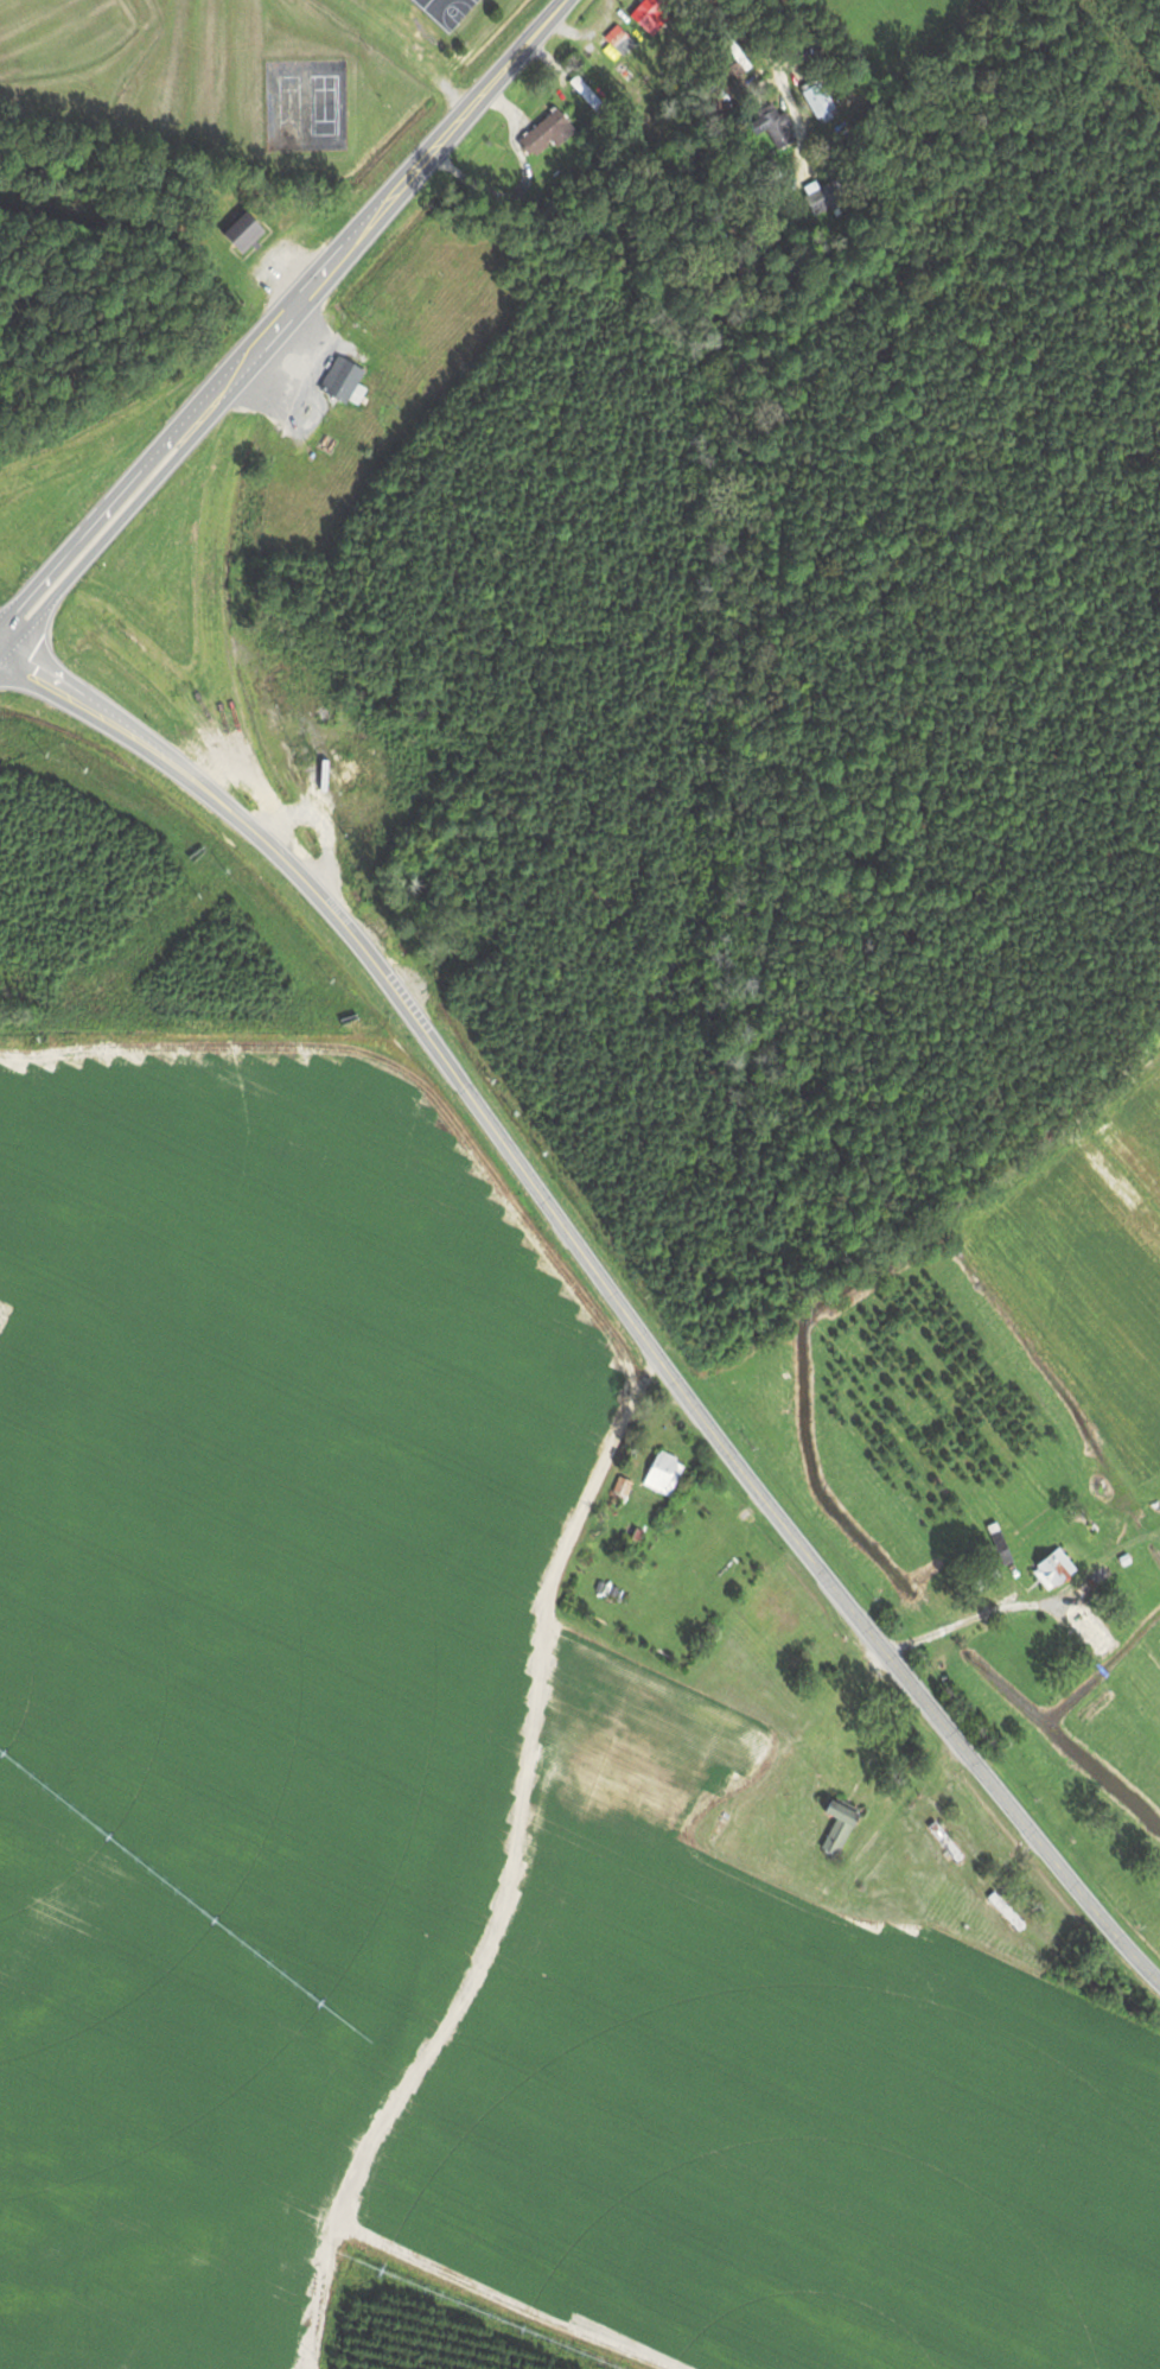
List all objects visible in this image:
building: (645, 11)
road: (735, 55)
building: (817, 100)
building: (772, 127)
park: (177, 129)
building: (547, 131)
building: (821, 197)
road: (375, 212)
building: (241, 233)
building: (340, 381)
road: (89, 527)
road: (101, 542)
building: (339, 773)
road: (605, 1282)
building: (662, 1473)
building: (619, 1488)
road: (571, 1529)
building: (1051, 1569)
road: (950, 1624)
building: (836, 1824)
building: (944, 1842)
building: (1005, 1911)

